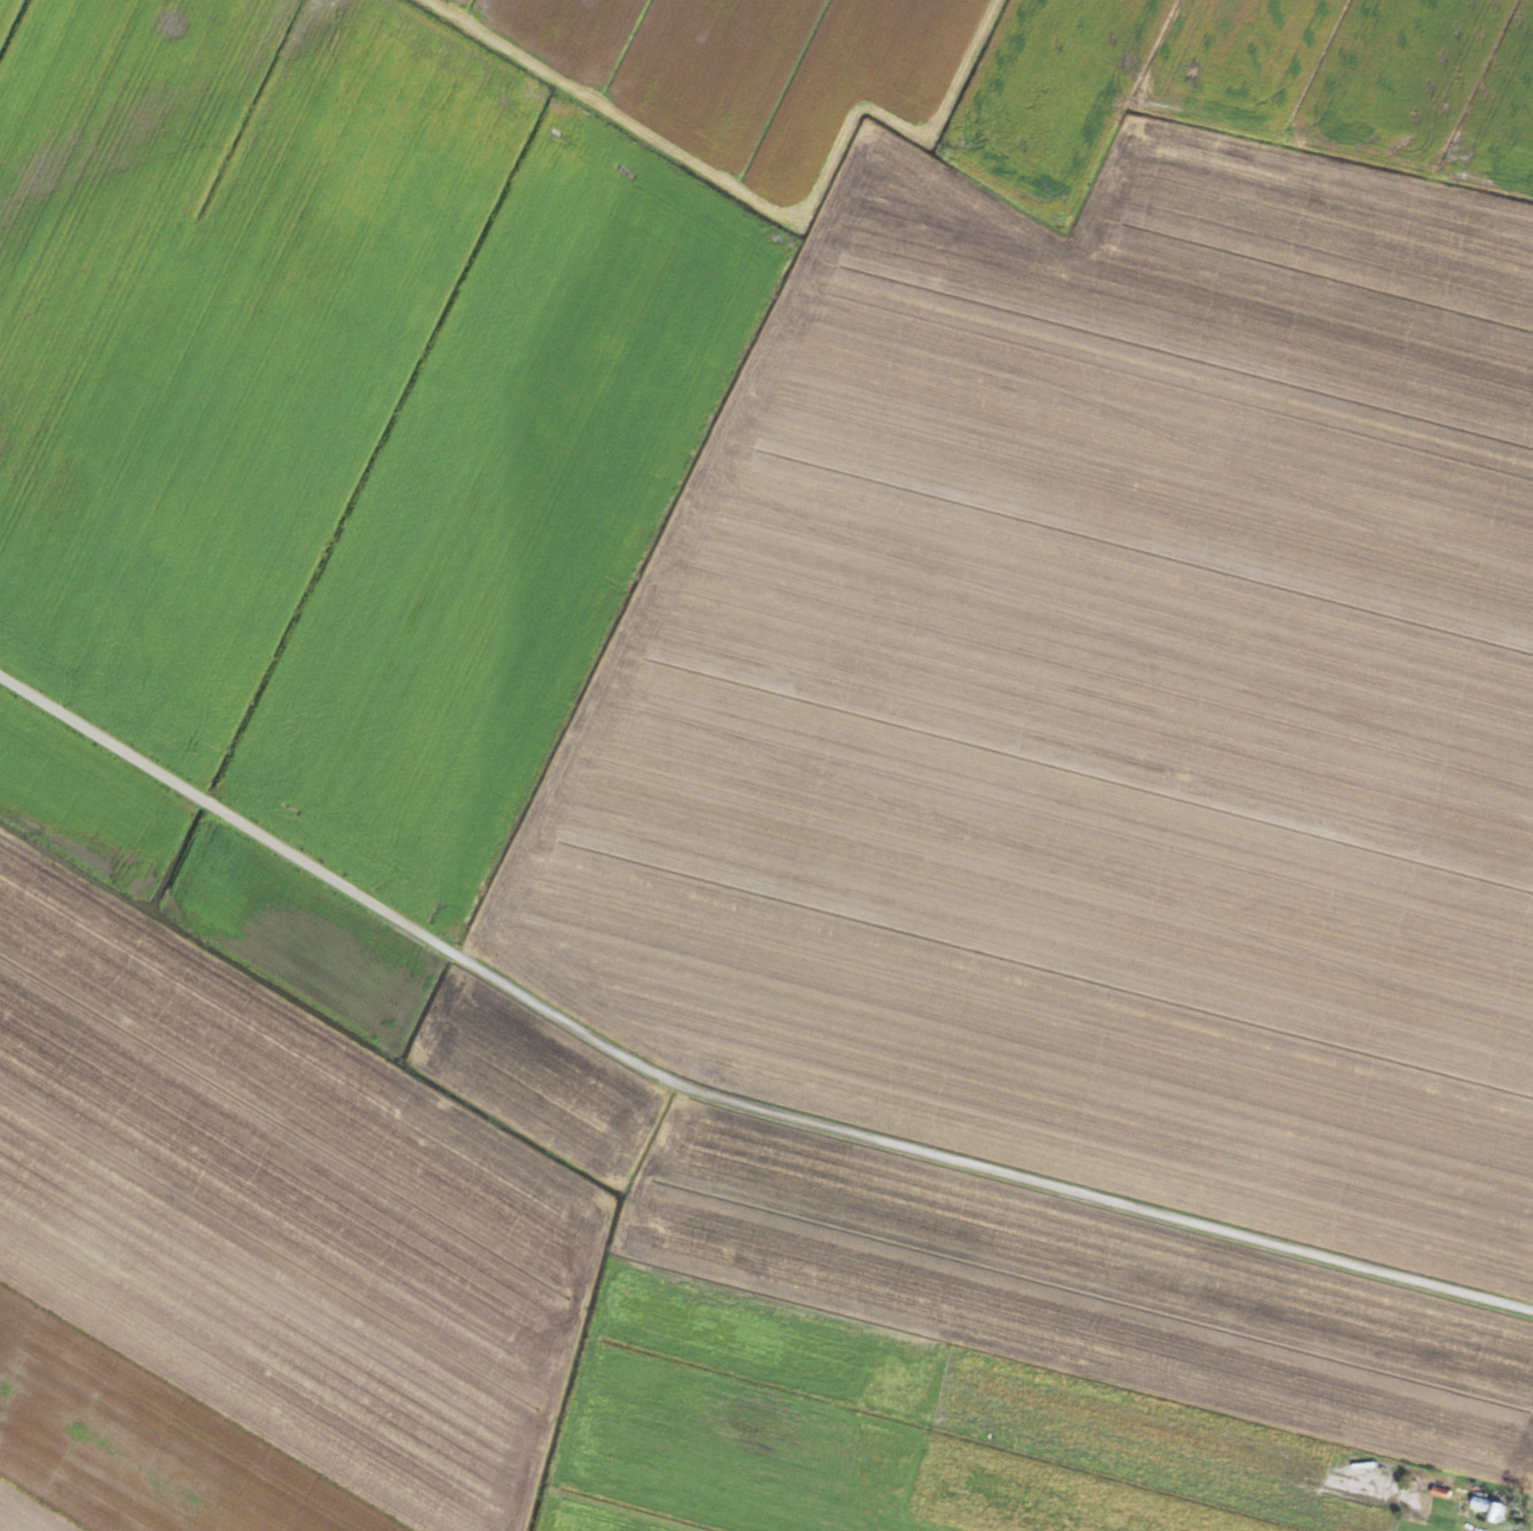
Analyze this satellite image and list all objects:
road: (722, 1111)
building: (1439, 1490)
building: (1489, 1506)

